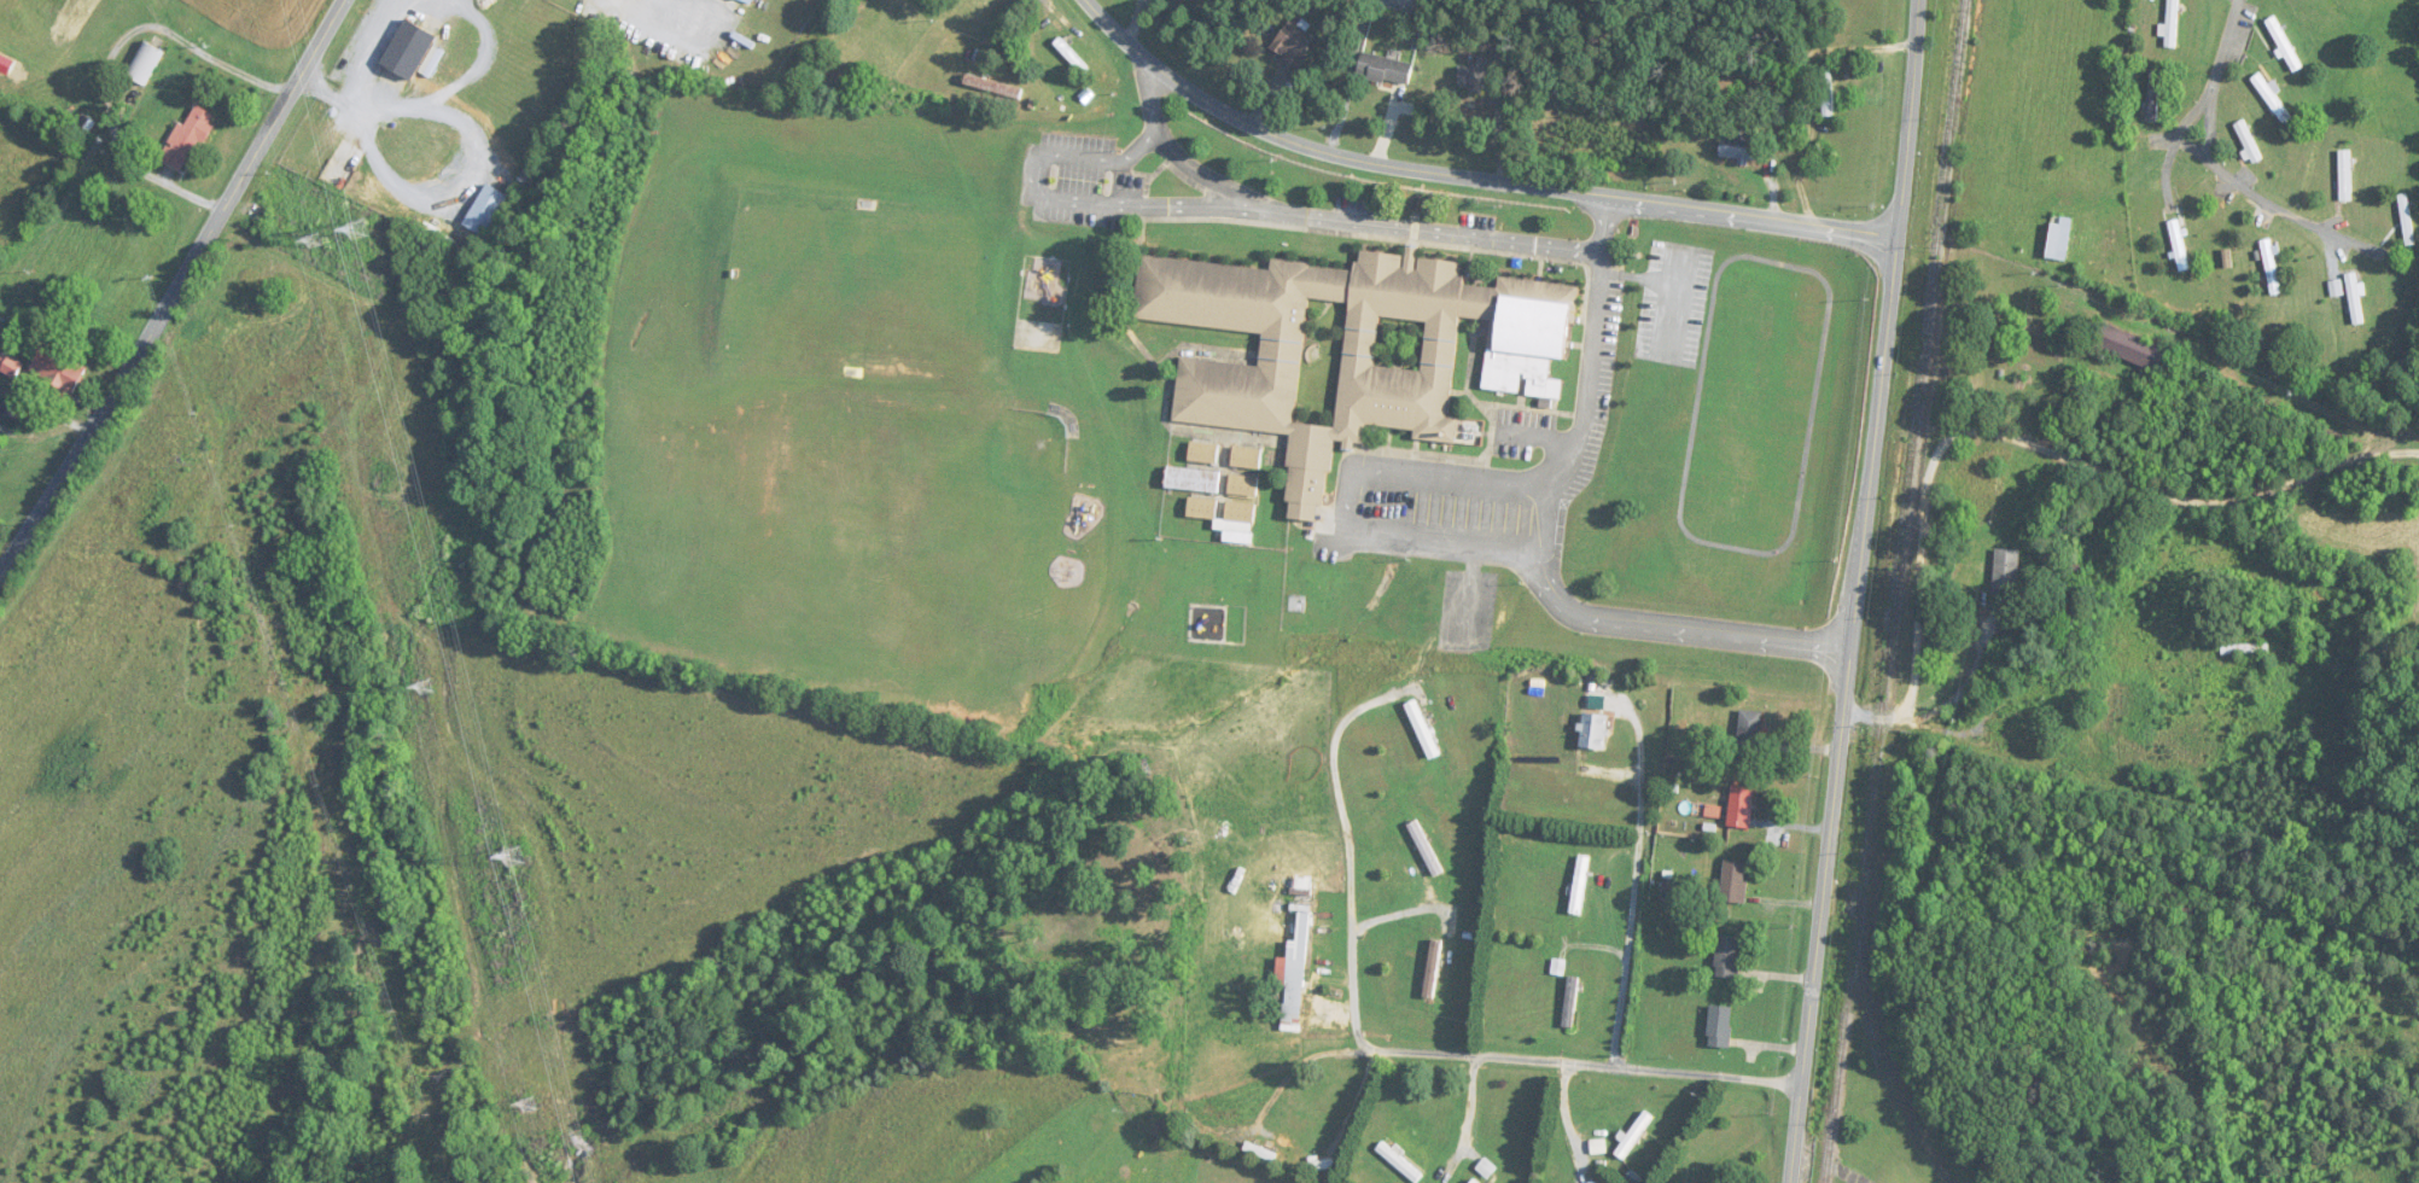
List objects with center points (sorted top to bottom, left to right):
building: (2172, 23)
building: (1293, 42)
building: (2283, 43)
building: (413, 48)
building: (1072, 56)
building: (145, 63)
building: (1383, 68)
building: (1477, 76)
building: (993, 87)
building: (1828, 92)
building: (2153, 95)
building: (2273, 98)
road: (397, 112)
building: (1779, 115)
road: (2186, 124)
building: (190, 136)
building: (2248, 141)
building: (1739, 146)
road: (2223, 169)
building: (2347, 174)
road: (1467, 176)
road: (1212, 179)
road: (1229, 205)
building: (486, 210)
building: (2406, 215)
power tower: (360, 229)
building: (2058, 238)
power tower: (315, 240)
building: (2179, 245)
building: (16, 261)
building: (2271, 267)
road: (179, 291)
building: (2355, 298)
building: (2133, 349)
building: (1351, 350)
building: (10, 366)
building: (58, 371)
road: (2403, 448)
building: (1203, 453)
building: (1247, 459)
road: (2036, 459)
building: (1191, 479)
building: (1243, 486)
building: (1201, 508)
building: (1240, 512)
road: (1793, 547)
road: (1547, 571)
building: (2006, 571)
road: (1861, 591)
building: (2069, 671)
power tower: (425, 684)
building: (2025, 715)
building: (1749, 728)
building: (1423, 729)
river: (391, 732)
building: (1593, 732)
building: (1741, 808)
building: (1424, 849)
power tower: (514, 855)
building: (1733, 882)
building: (1579, 885)
building: (1727, 957)
road: (1631, 966)
building: (1433, 969)
road: (1375, 974)
building: (1570, 1003)
building: (1719, 1027)
railway: (1884, 1057)
road: (1603, 1077)
power tower: (530, 1103)
building: (1310, 1135)
building: (1634, 1136)
building: (1399, 1162)
building: (1474, 1182)
building: (1591, 1182)

